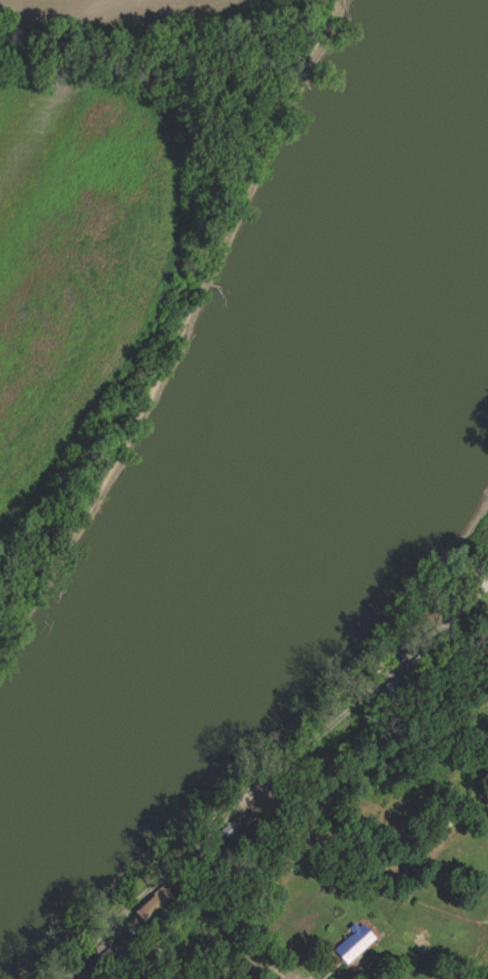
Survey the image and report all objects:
building: (485, 572)
river: (266, 611)
road: (286, 780)
building: (356, 944)

